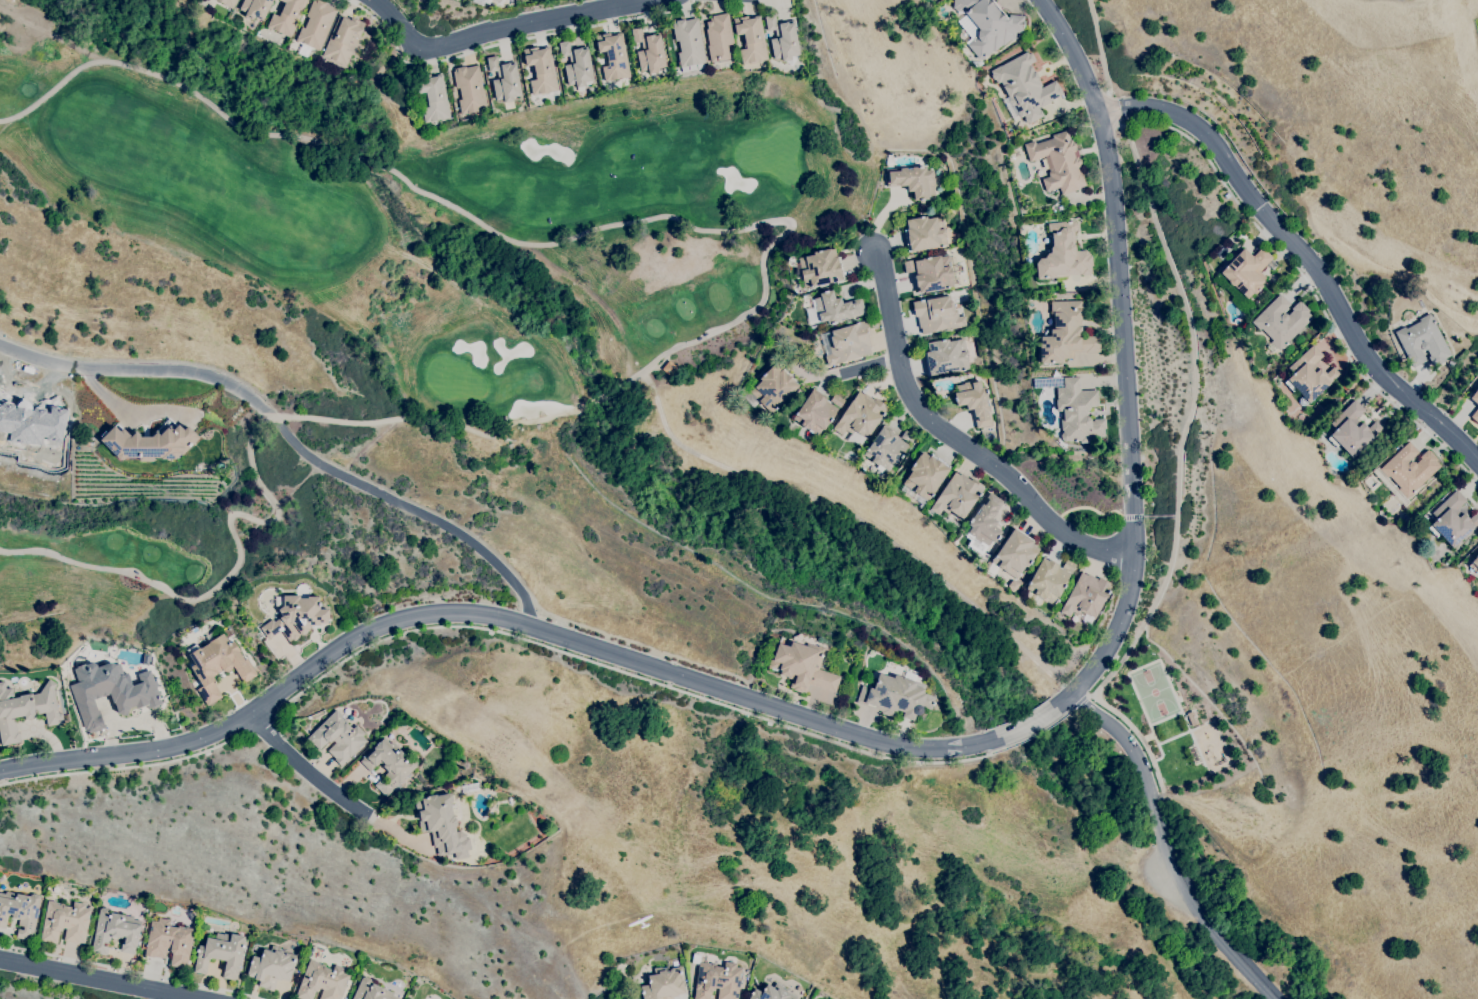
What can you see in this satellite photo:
building: (496, 0)
building: (482, 2)
building: (228, 3)
building: (255, 8)
building: (287, 17)
building: (316, 24)
building: (987, 25)
road: (498, 28)
building: (719, 37)
building: (342, 39)
road: (509, 39)
building: (751, 39)
building: (783, 40)
building: (688, 42)
road: (1099, 45)
building: (649, 51)
building: (613, 55)
building: (577, 65)
building: (541, 69)
building: (504, 79)
building: (1025, 86)
building: (469, 89)
building: (433, 97)
road: (1114, 109)
building: (1058, 162)
road: (1137, 163)
building: (914, 181)
park: (426, 210)
road: (498, 232)
building: (924, 233)
road: (1305, 252)
building: (1063, 253)
building: (819, 268)
building: (1246, 271)
building: (930, 272)
road: (1122, 296)
building: (833, 308)
building: (937, 314)
building: (1282, 320)
building: (1066, 334)
building: (1423, 341)
building: (846, 342)
building: (946, 356)
building: (1309, 375)
park: (453, 379)
building: (773, 388)
road: (604, 394)
building: (1475, 396)
building: (837, 400)
building: (974, 401)
road: (127, 409)
building: (1078, 412)
building: (815, 413)
road: (273, 415)
building: (1475, 415)
building: (860, 417)
road: (442, 421)
building: (30, 422)
road: (284, 426)
building: (1352, 429)
building: (908, 437)
road: (958, 439)
building: (149, 443)
building: (885, 449)
building: (1409, 468)
building: (924, 477)
building: (957, 495)
road: (1088, 508)
road: (1161, 516)
road: (858, 517)
road: (1134, 517)
building: (1452, 520)
building: (984, 525)
building: (1013, 554)
building: (1474, 563)
park: (116, 569)
road: (224, 580)
building: (1049, 580)
building: (1086, 597)
road: (528, 614)
road: (494, 615)
building: (296, 617)
building: (217, 665)
road: (1096, 665)
road: (1140, 666)
building: (802, 667)
road: (633, 674)
building: (110, 691)
park: (1153, 691)
building: (896, 695)
road: (1080, 701)
building: (26, 710)
road: (1064, 713)
road: (1165, 718)
building: (1192, 718)
park: (1169, 719)
road: (265, 723)
road: (1028, 724)
road: (1036, 731)
road: (1137, 734)
road: (1191, 736)
building: (338, 737)
road: (1147, 737)
road: (1154, 737)
road: (1167, 739)
building: (389, 765)
road: (128, 766)
road: (309, 769)
building: (442, 825)
road: (1167, 847)
building: (20, 912)
building: (65, 922)
building: (115, 931)
building: (169, 942)
building: (221, 954)
building: (272, 967)
road: (129, 970)
road: (101, 978)
building: (717, 980)
building: (322, 981)
building: (664, 983)
building: (371, 991)
building: (771, 993)
park: (608, 994)

